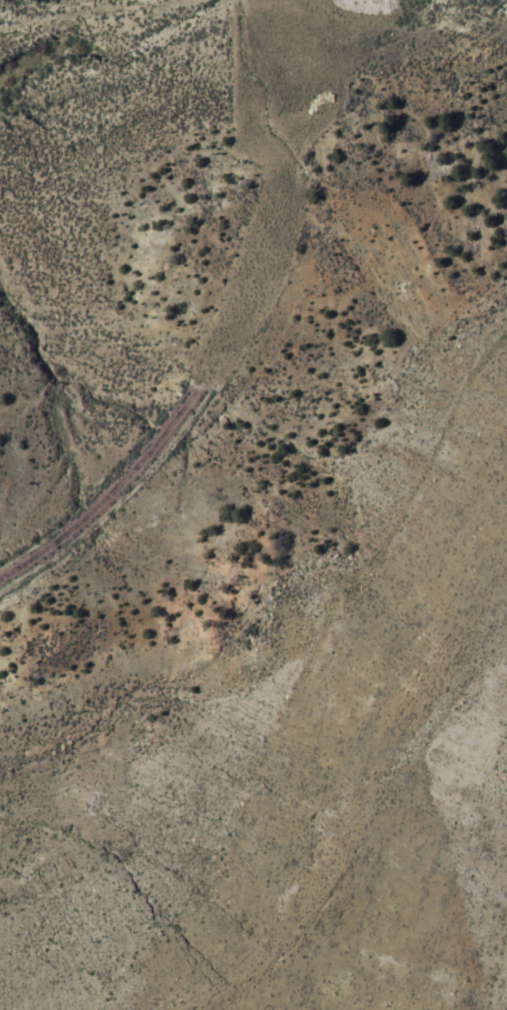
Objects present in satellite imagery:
railway: (295, 80)
railway: (189, 401)

